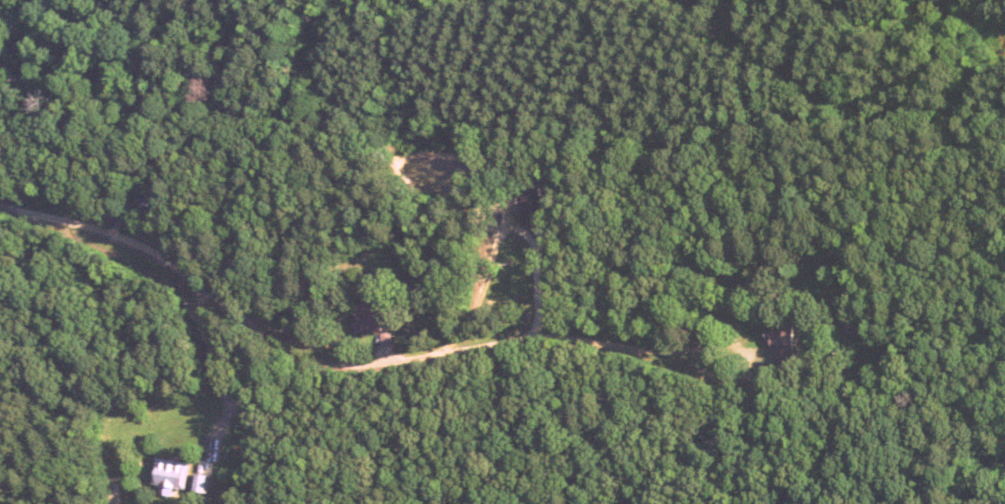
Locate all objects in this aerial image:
building: (147, 198)
building: (365, 317)
building: (859, 326)
building: (780, 341)
road: (352, 363)
building: (259, 425)
building: (170, 474)
building: (200, 483)
building: (112, 491)

